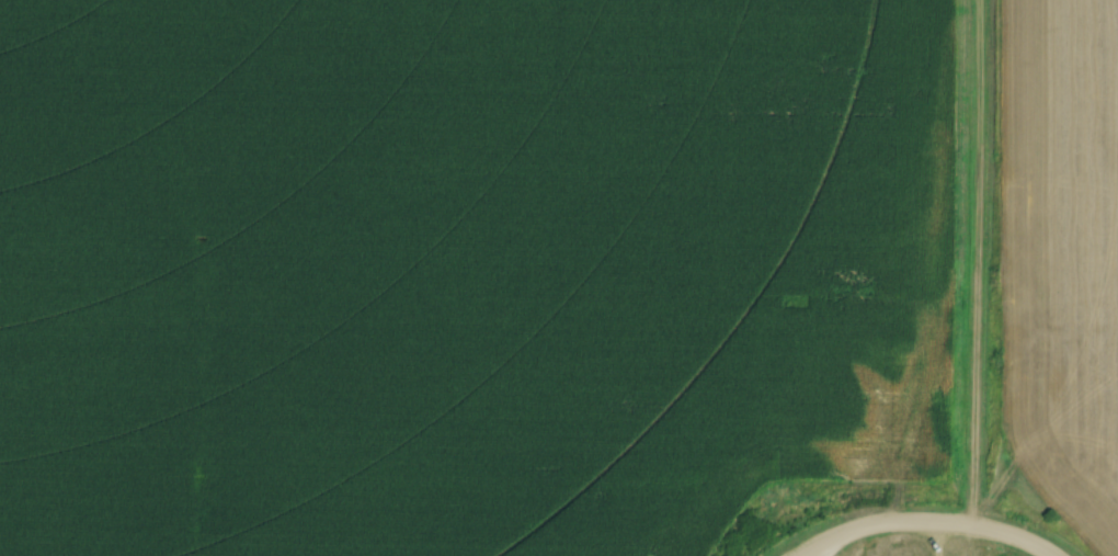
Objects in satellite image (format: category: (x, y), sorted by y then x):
road: (924, 529)

